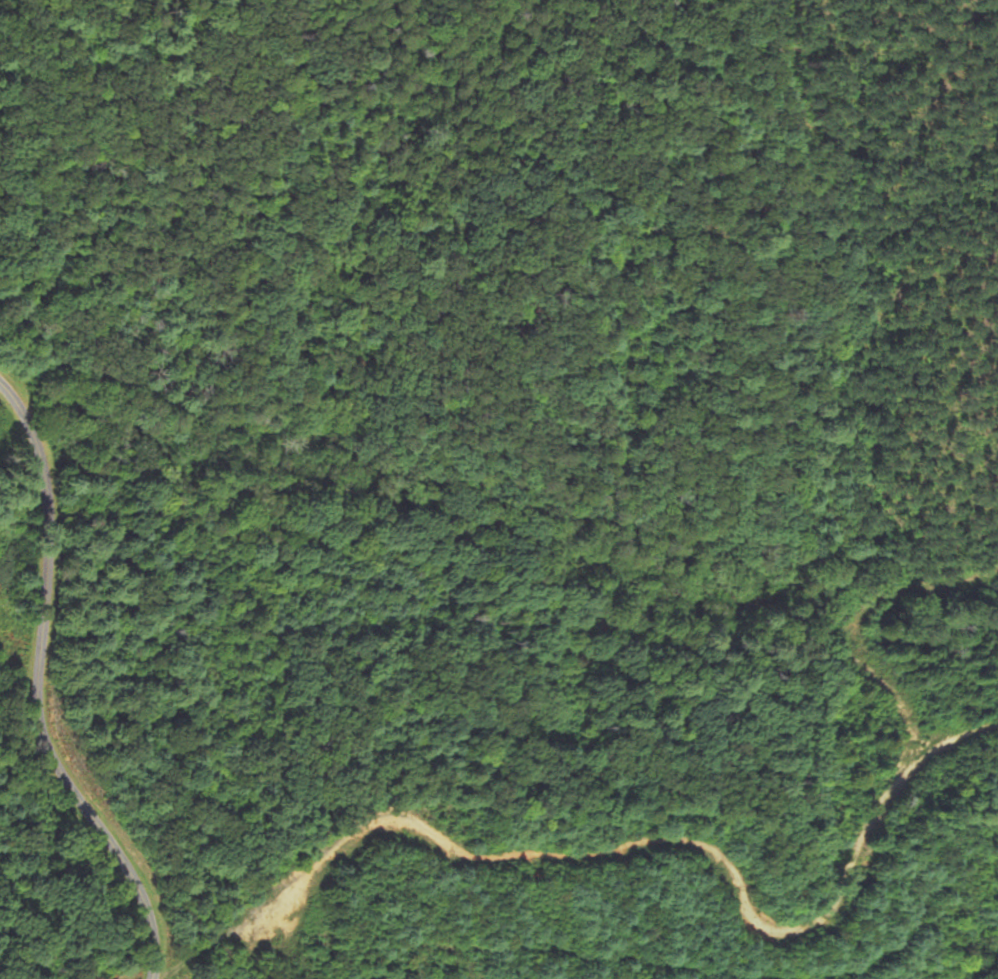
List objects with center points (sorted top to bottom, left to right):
road: (33, 688)
road: (612, 849)

